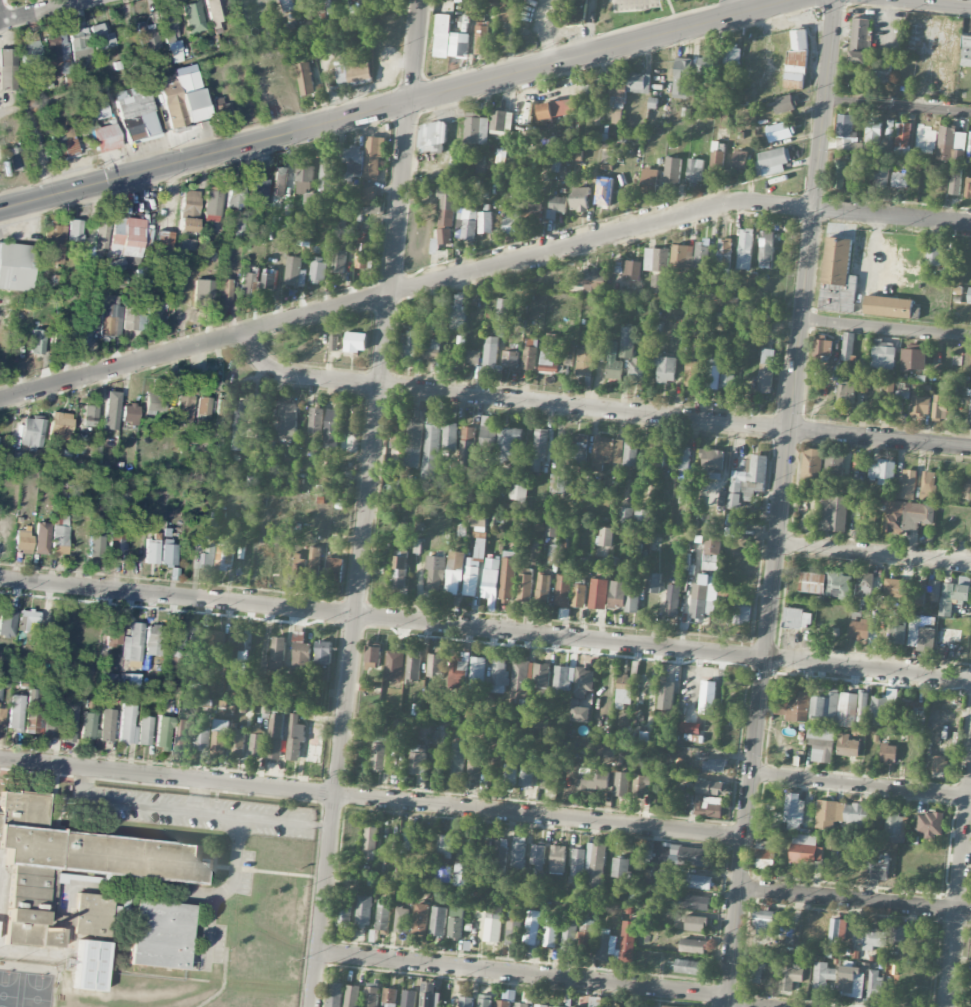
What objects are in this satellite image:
road: (964, 0)
building: (287, 5)
building: (329, 6)
building: (363, 6)
road: (736, 6)
building: (214, 10)
road: (48, 12)
building: (509, 12)
building: (192, 17)
building: (166, 21)
building: (147, 35)
building: (442, 35)
building: (169, 36)
building: (101, 37)
building: (482, 39)
building: (859, 40)
building: (80, 43)
building: (459, 45)
building: (56, 51)
building: (966, 51)
building: (29, 55)
road: (211, 56)
building: (732, 56)
building: (796, 61)
building: (706, 65)
building: (7, 68)
building: (353, 73)
building: (881, 76)
building: (684, 77)
building: (305, 78)
building: (638, 83)
building: (191, 96)
building: (590, 96)
building: (618, 100)
building: (172, 104)
building: (784, 104)
building: (221, 106)
road: (393, 107)
road: (898, 107)
building: (652, 108)
building: (557, 109)
building: (97, 110)
building: (136, 113)
building: (501, 121)
building: (476, 128)
building: (780, 131)
building: (845, 132)
building: (873, 132)
building: (106, 137)
building: (432, 137)
building: (923, 138)
building: (902, 139)
building: (64, 141)
building: (969, 142)
building: (951, 144)
building: (373, 157)
building: (13, 158)
building: (607, 159)
building: (740, 159)
building: (354, 160)
building: (717, 161)
building: (771, 161)
building: (556, 163)
building: (481, 164)
building: (672, 170)
building: (695, 170)
building: (839, 174)
building: (326, 176)
building: (880, 178)
building: (293, 180)
building: (899, 180)
building: (649, 181)
building: (955, 184)
building: (257, 187)
building: (968, 188)
building: (235, 194)
building: (369, 196)
building: (580, 199)
building: (604, 199)
building: (189, 201)
building: (519, 201)
building: (211, 205)
building: (557, 206)
building: (376, 208)
building: (446, 214)
building: (533, 215)
building: (485, 222)
building: (467, 223)
building: (510, 223)
building: (187, 224)
building: (74, 230)
building: (101, 230)
building: (127, 236)
building: (304, 237)
building: (164, 239)
building: (52, 243)
building: (188, 244)
building: (766, 246)
building: (745, 249)
building: (701, 254)
building: (724, 254)
building: (362, 255)
building: (933, 256)
building: (682, 258)
building: (656, 259)
building: (339, 261)
building: (114, 265)
building: (16, 267)
building: (318, 268)
building: (631, 270)
road: (481, 271)
building: (295, 272)
building: (838, 276)
building: (270, 279)
building: (591, 279)
building: (656, 281)
building: (247, 283)
building: (223, 289)
building: (203, 292)
building: (969, 296)
building: (888, 306)
building: (154, 309)
building: (502, 310)
building: (457, 312)
building: (111, 315)
building: (133, 319)
building: (412, 323)
road: (886, 330)
building: (65, 333)
building: (38, 341)
building: (356, 342)
building: (627, 342)
building: (334, 343)
building: (408, 345)
building: (823, 346)
building: (848, 346)
building: (569, 348)
building: (433, 351)
building: (491, 352)
building: (883, 355)
building: (547, 356)
building: (473, 357)
building: (529, 358)
building: (914, 358)
building: (511, 359)
building: (568, 360)
building: (585, 360)
building: (613, 362)
building: (635, 368)
building: (664, 368)
building: (713, 370)
building: (766, 370)
building: (691, 374)
building: (726, 382)
building: (846, 394)
building: (153, 403)
building: (920, 406)
building: (940, 406)
building: (184, 407)
building: (203, 407)
building: (223, 409)
road: (598, 409)
building: (886, 409)
building: (970, 409)
building: (111, 410)
building: (89, 413)
building: (129, 413)
building: (316, 420)
building: (288, 421)
building: (244, 423)
building: (61, 425)
building: (331, 432)
building: (398, 432)
building: (32, 433)
building: (449, 436)
building: (507, 442)
building: (414, 444)
building: (431, 447)
building: (578, 448)
building: (0, 449)
building: (467, 449)
building: (539, 449)
building: (606, 452)
building: (629, 454)
building: (665, 456)
building: (684, 460)
building: (860, 462)
building: (712, 463)
building: (812, 464)
building: (834, 468)
building: (882, 470)
building: (747, 480)
building: (557, 483)
building: (907, 485)
building: (928, 485)
building: (966, 487)
building: (518, 493)
building: (684, 493)
road: (367, 503)
road: (781, 503)
building: (833, 513)
building: (627, 514)
building: (640, 515)
building: (907, 516)
building: (479, 520)
building: (733, 526)
building: (551, 528)
building: (60, 535)
building: (41, 537)
building: (605, 537)
building: (22, 540)
building: (534, 543)
building: (116, 544)
building: (96, 545)
building: (151, 551)
road: (874, 553)
building: (168, 554)
building: (208, 557)
building: (225, 557)
building: (314, 565)
building: (334, 569)
building: (400, 569)
building: (454, 572)
building: (435, 573)
building: (865, 579)
building: (507, 580)
building: (471, 581)
building: (706, 581)
building: (491, 582)
building: (653, 583)
building: (825, 584)
building: (524, 587)
building: (543, 588)
building: (896, 588)
building: (933, 589)
building: (562, 591)
building: (598, 594)
building: (954, 594)
building: (579, 595)
building: (622, 598)
building: (673, 600)
building: (741, 613)
building: (27, 618)
building: (796, 618)
building: (6, 620)
building: (859, 625)
road: (485, 629)
building: (897, 631)
building: (113, 633)
building: (921, 636)
building: (153, 639)
building: (195, 639)
building: (216, 642)
building: (132, 643)
building: (237, 644)
building: (174, 648)
building: (301, 652)
building: (323, 652)
building: (278, 653)
building: (373, 655)
building: (434, 664)
building: (413, 666)
building: (458, 671)
building: (477, 672)
building: (498, 675)
building: (540, 675)
building: (563, 678)
building: (108, 679)
building: (519, 679)
building: (129, 680)
building: (583, 682)
building: (625, 689)
building: (666, 695)
building: (707, 697)
building: (884, 706)
building: (794, 707)
building: (825, 708)
building: (853, 709)
building: (34, 711)
building: (470, 711)
building: (913, 711)
building: (16, 712)
building: (580, 714)
building: (2, 718)
building: (107, 721)
building: (51, 722)
building: (539, 722)
building: (127, 724)
building: (69, 728)
building: (144, 730)
building: (424, 730)
building: (163, 731)
building: (182, 734)
building: (220, 736)
building: (276, 737)
building: (295, 737)
building: (380, 739)
building: (202, 740)
building: (314, 742)
building: (238, 743)
building: (821, 743)
building: (256, 745)
building: (848, 746)
building: (888, 753)
building: (361, 756)
building: (378, 756)
building: (417, 760)
building: (457, 760)
building: (494, 763)
building: (714, 764)
building: (396, 765)
building: (474, 765)
building: (938, 766)
building: (509, 774)
building: (548, 774)
building: (526, 776)
building: (593, 780)
building: (621, 784)
building: (640, 785)
road: (861, 785)
building: (710, 787)
road: (372, 797)
road: (122, 803)
building: (709, 807)
building: (794, 810)
building: (830, 814)
building: (858, 815)
road: (247, 817)
building: (931, 824)
building: (894, 825)
building: (881, 826)
building: (408, 840)
building: (369, 843)
building: (444, 845)
building: (806, 849)
building: (518, 852)
building: (499, 855)
building: (537, 855)
building: (695, 856)
building: (765, 856)
building: (462, 859)
building: (557, 859)
building: (578, 862)
building: (595, 865)
building: (620, 867)
building: (881, 868)
building: (74, 869)
building: (442, 874)
building: (701, 882)
road: (222, 890)
road: (958, 892)
road: (855, 901)
building: (698, 903)
building: (363, 911)
building: (343, 914)
building: (383, 915)
building: (401, 919)
building: (420, 919)
building: (438, 921)
building: (456, 922)
building: (493, 922)
building: (764, 922)
building: (694, 923)
building: (513, 928)
building: (837, 929)
building: (531, 932)
building: (549, 932)
building: (898, 933)
building: (160, 934)
building: (870, 937)
building: (585, 938)
building: (566, 941)
building: (627, 941)
building: (605, 946)
building: (693, 946)
building: (755, 956)
building: (89, 965)
building: (688, 967)
building: (755, 973)
road: (523, 974)
building: (822, 975)
building: (789, 977)
building: (851, 981)
building: (874, 985)
building: (334, 994)
building: (371, 995)
building: (429, 995)
building: (352, 996)
building: (527, 996)
building: (389, 997)
building: (409, 998)
building: (484, 1000)
building: (466, 1002)
building: (502, 1003)
building: (521, 1005)
building: (539, 1005)
road: (741, 1005)
building: (557, 1006)
building: (667, 1006)

